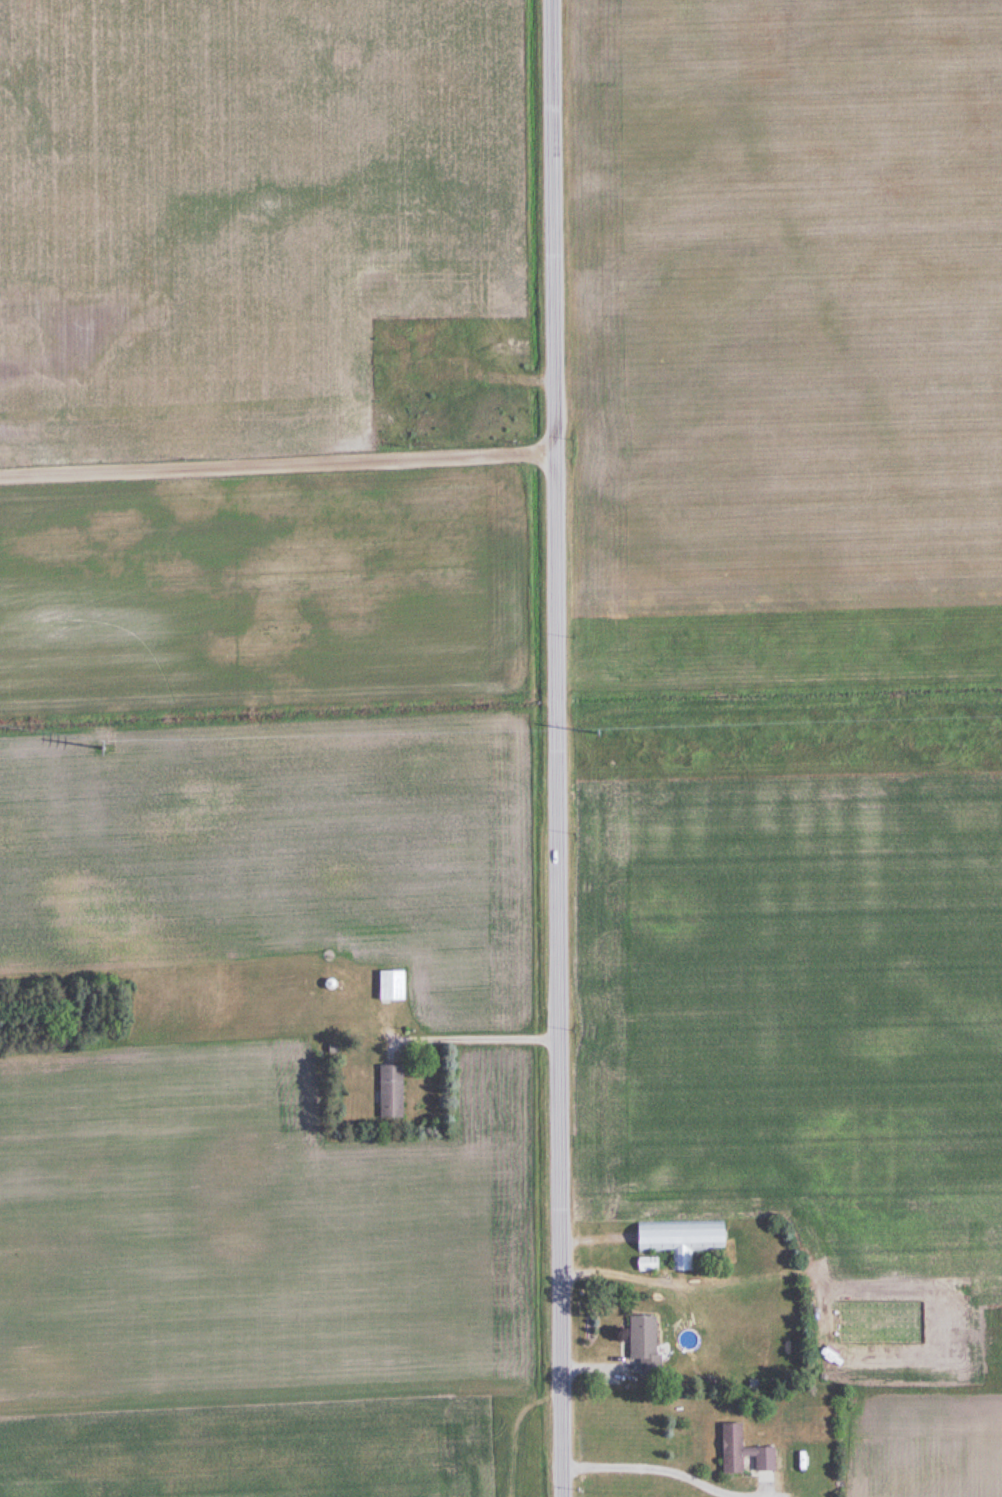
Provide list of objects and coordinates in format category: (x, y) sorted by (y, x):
road: (277, 465)
power tower: (598, 733)
road: (557, 748)
power tower: (107, 749)
building: (391, 986)
road: (467, 1021)
building: (390, 1092)
building: (680, 1240)
building: (647, 1265)
building: (643, 1343)
building: (742, 1453)
road: (652, 1471)

